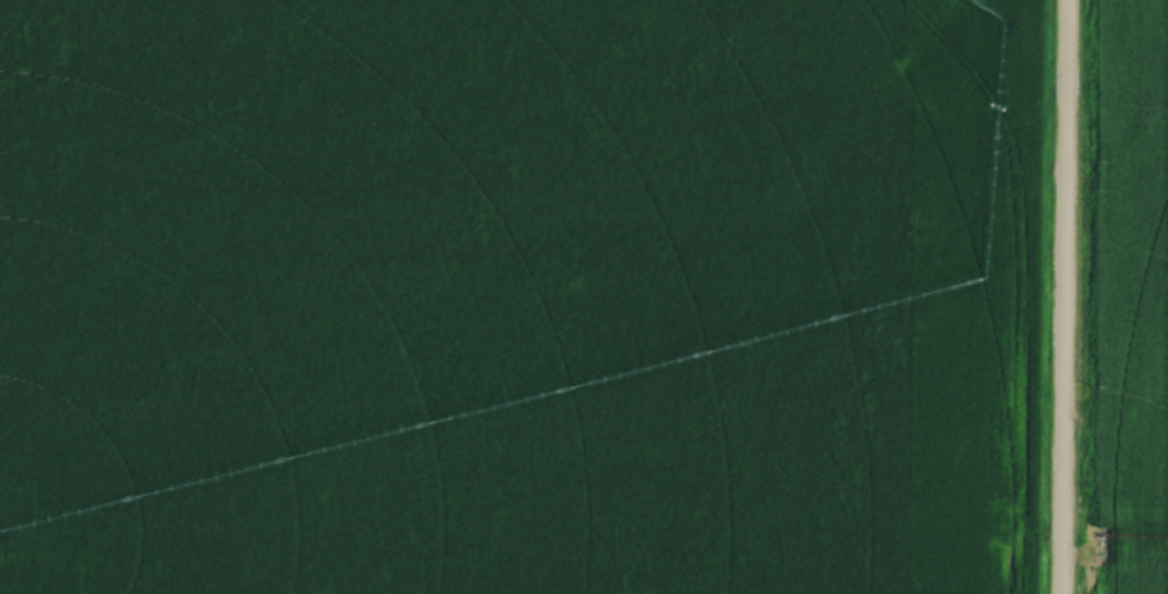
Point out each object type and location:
road: (1058, 296)

